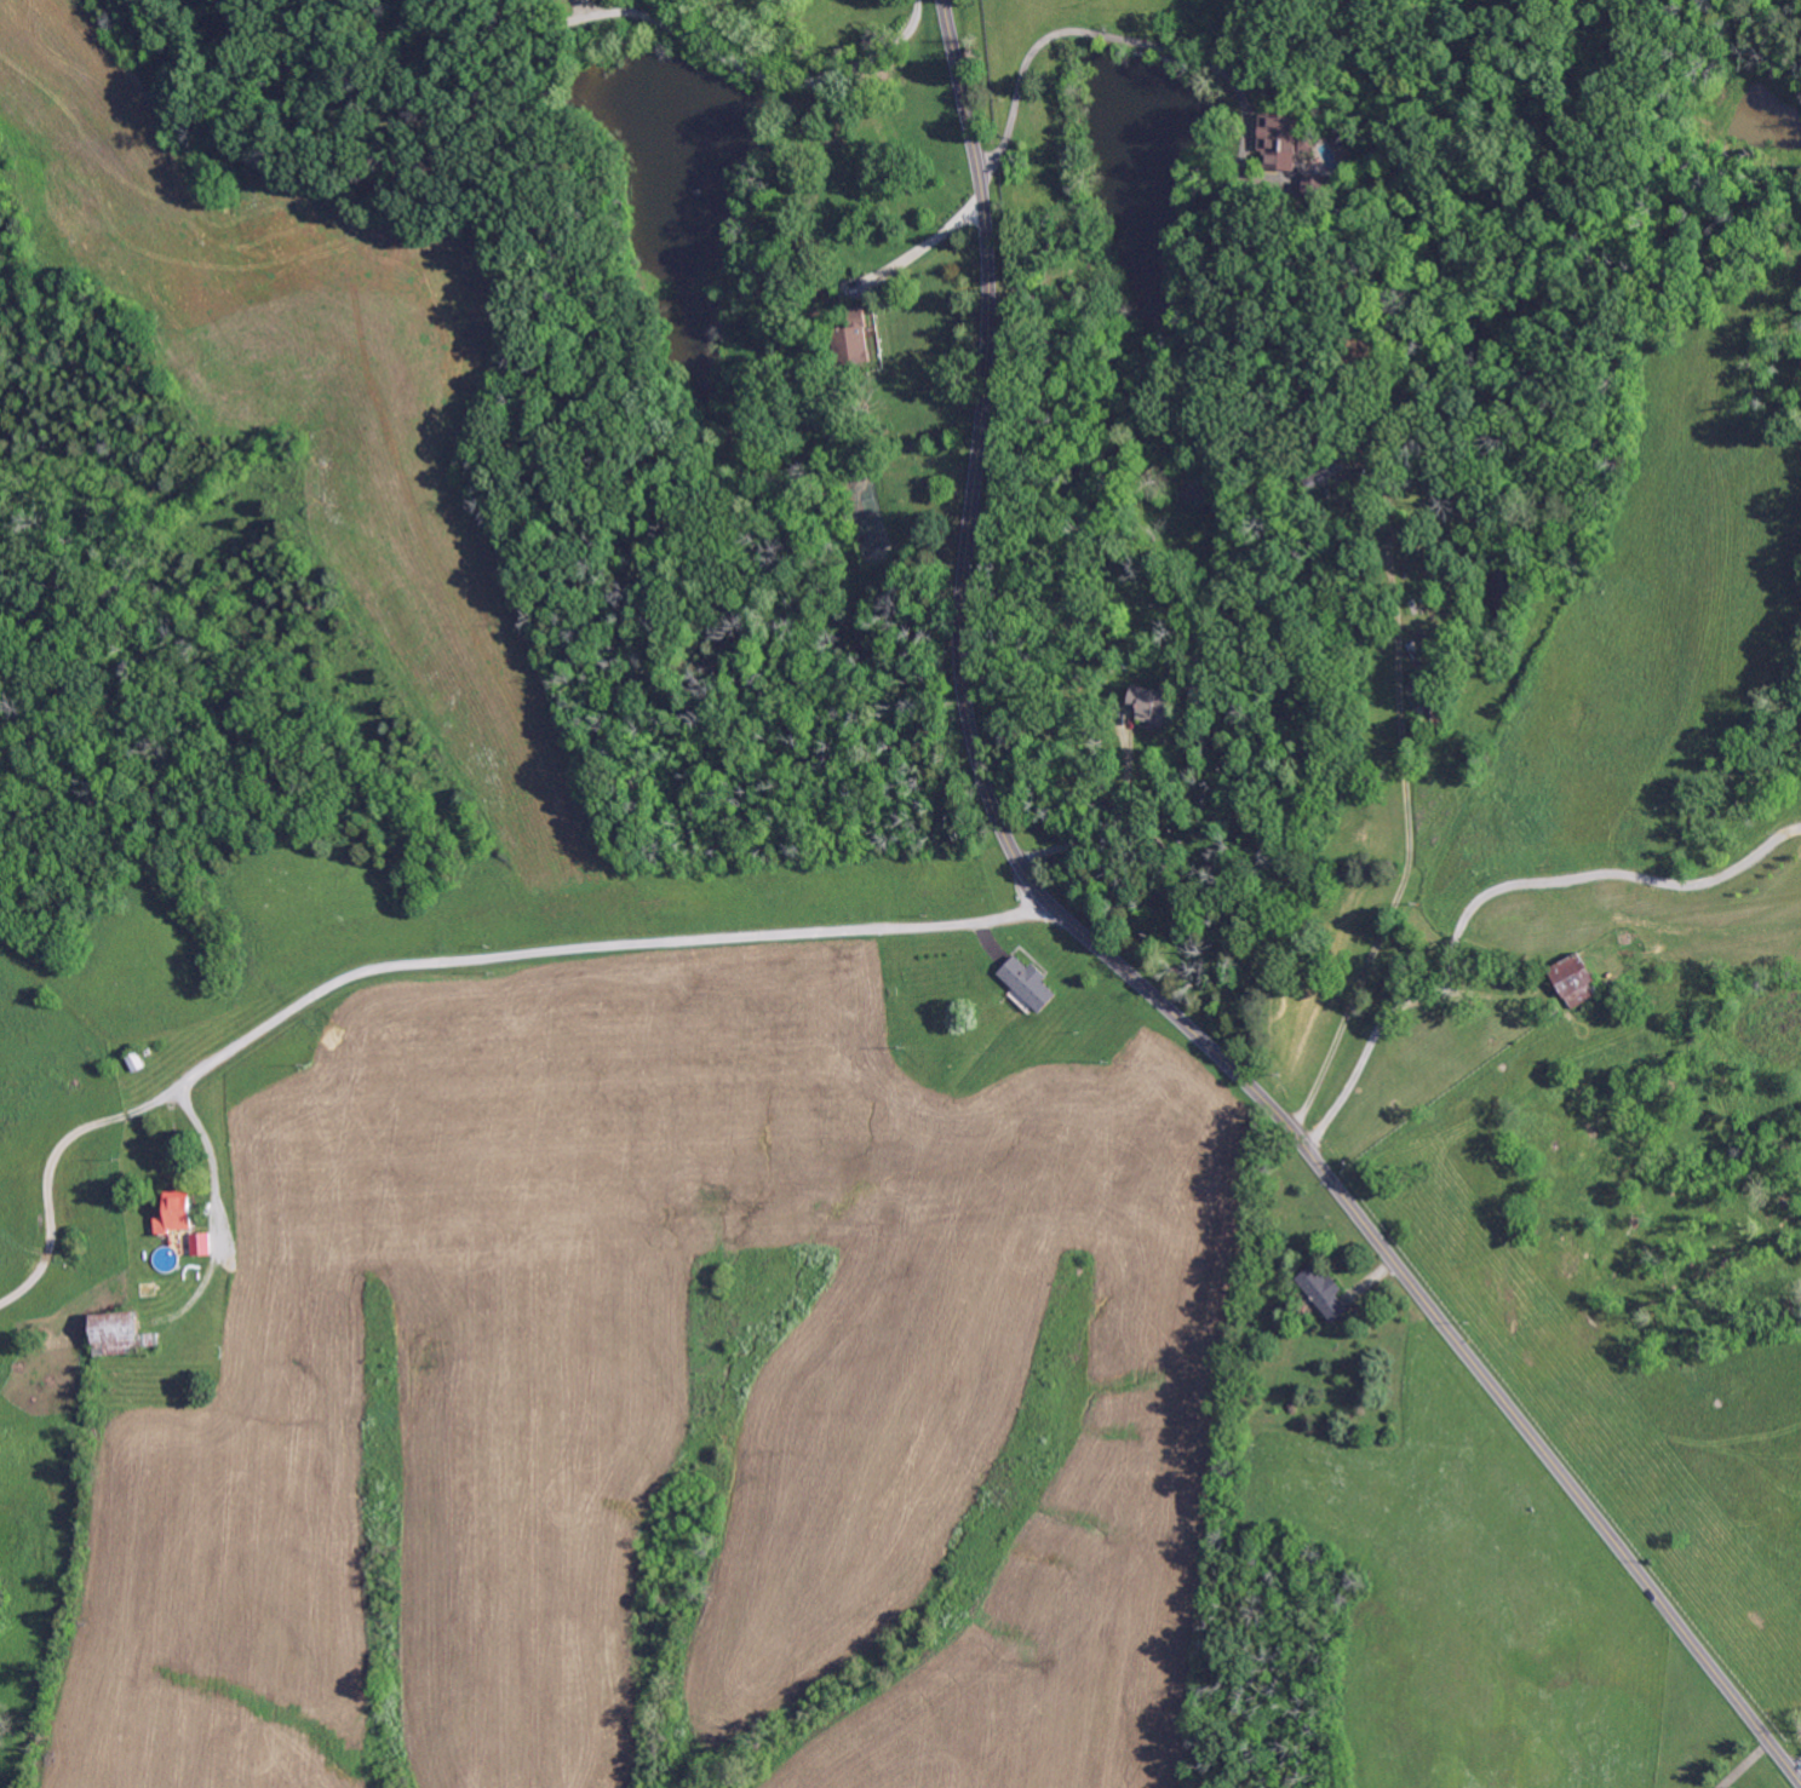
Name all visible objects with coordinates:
road: (1082, 30)
road: (747, 64)
building: (1285, 140)
building: (1315, 190)
road: (927, 242)
building: (807, 268)
building: (851, 340)
building: (1323, 437)
building: (1429, 703)
building: (1151, 705)
road: (1403, 736)
road: (1107, 826)
road: (1491, 889)
road: (432, 950)
road: (1135, 978)
building: (1573, 979)
building: (1027, 983)
building: (1550, 1011)
building: (1457, 1030)
building: (148, 1052)
building: (136, 1062)
road: (210, 1152)
building: (174, 1213)
building: (70, 1243)
building: (199, 1246)
building: (147, 1290)
building: (1321, 1293)
building: (119, 1335)
road: (1797, 1767)

